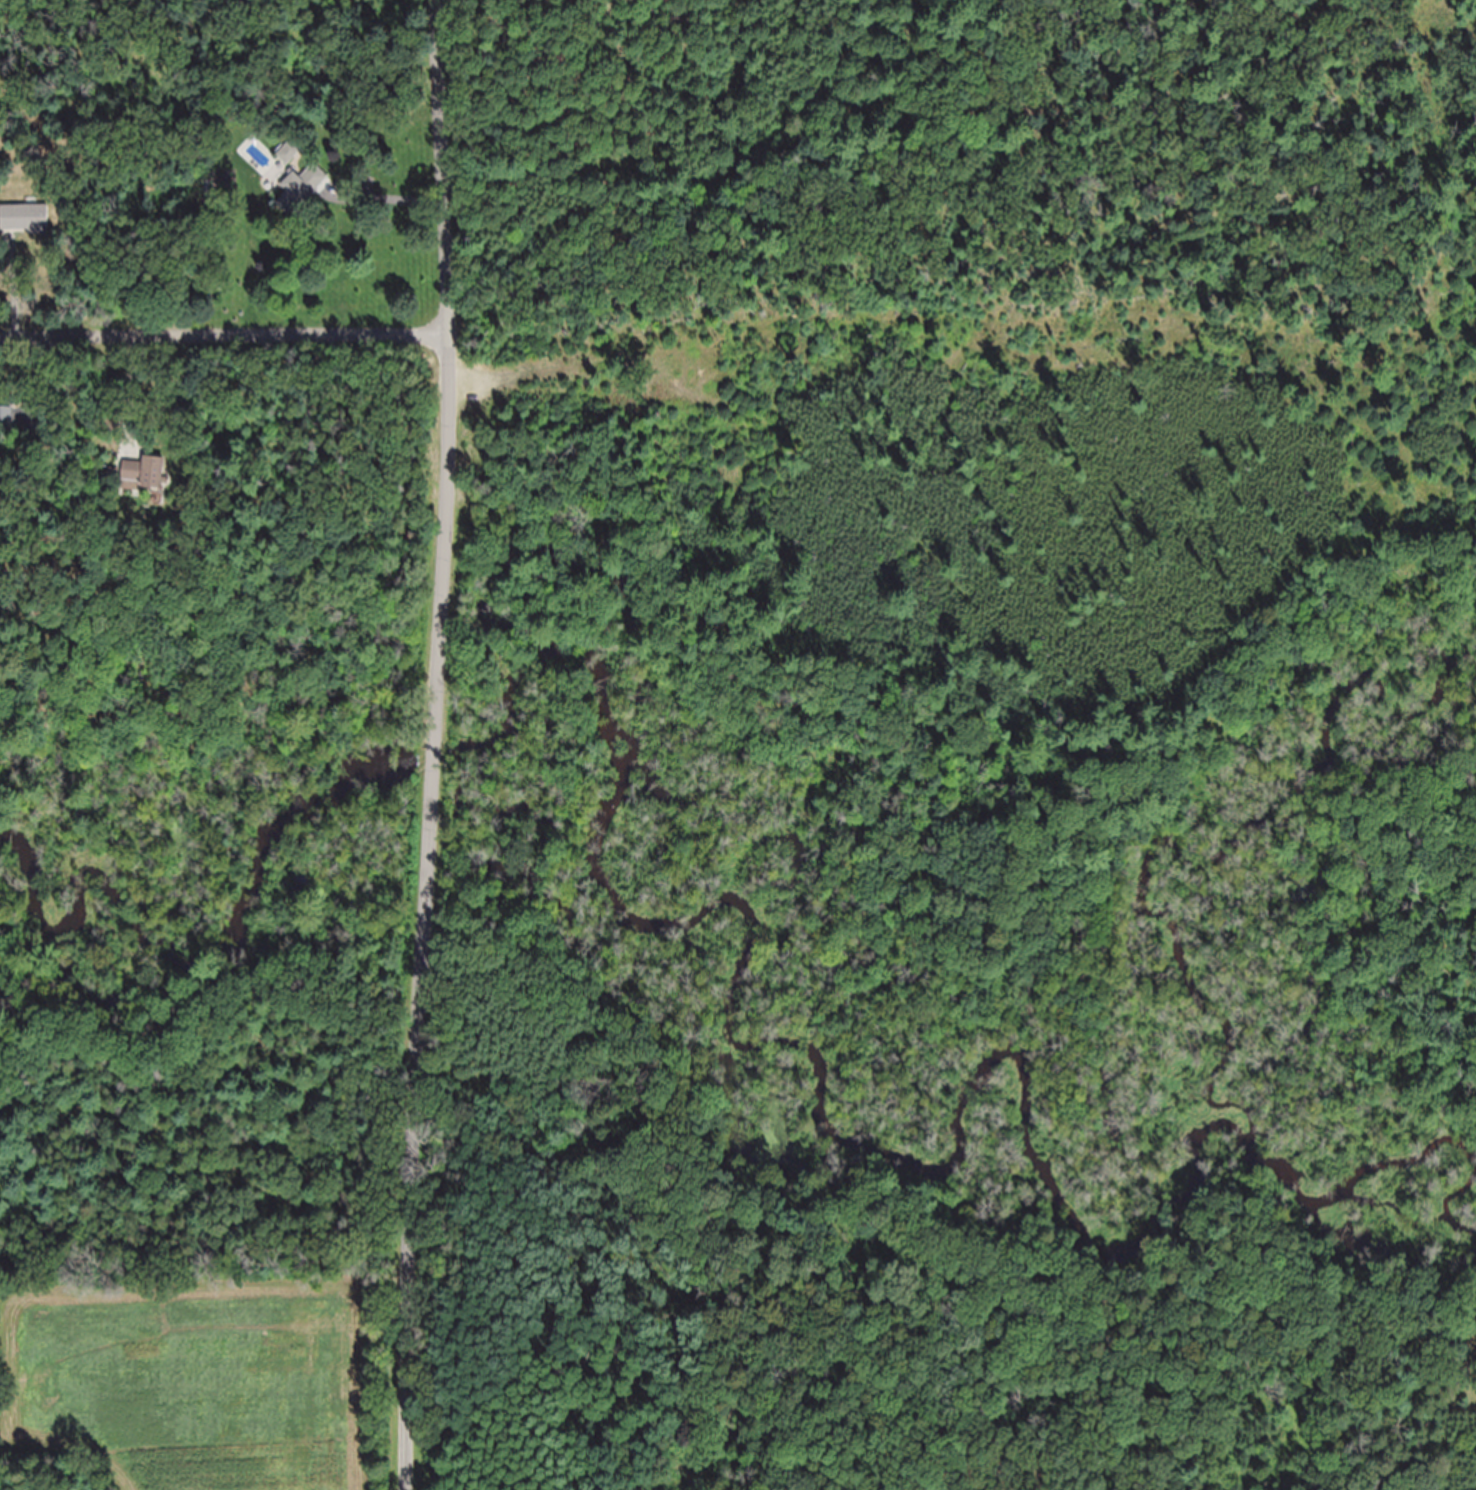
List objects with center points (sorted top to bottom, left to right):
building: (289, 163)
road: (388, 196)
building: (305, 202)
building: (26, 228)
road: (224, 334)
road: (448, 366)
building: (8, 428)
building: (145, 485)
road: (434, 762)
road: (414, 1140)

